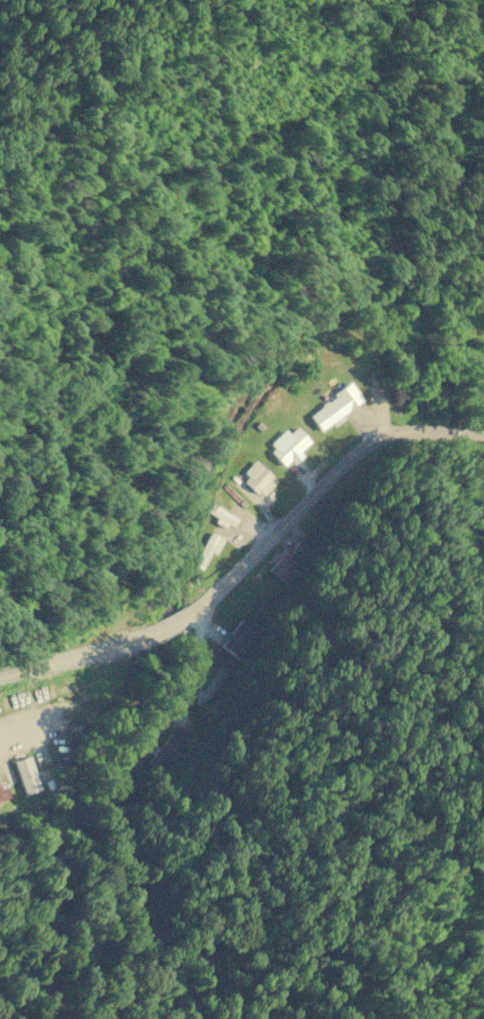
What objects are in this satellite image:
building: (334, 408)
building: (288, 446)
building: (257, 478)
building: (207, 549)
road: (252, 560)
building: (283, 565)
building: (237, 638)
building: (209, 686)
building: (161, 750)
building: (25, 775)
building: (3, 791)

